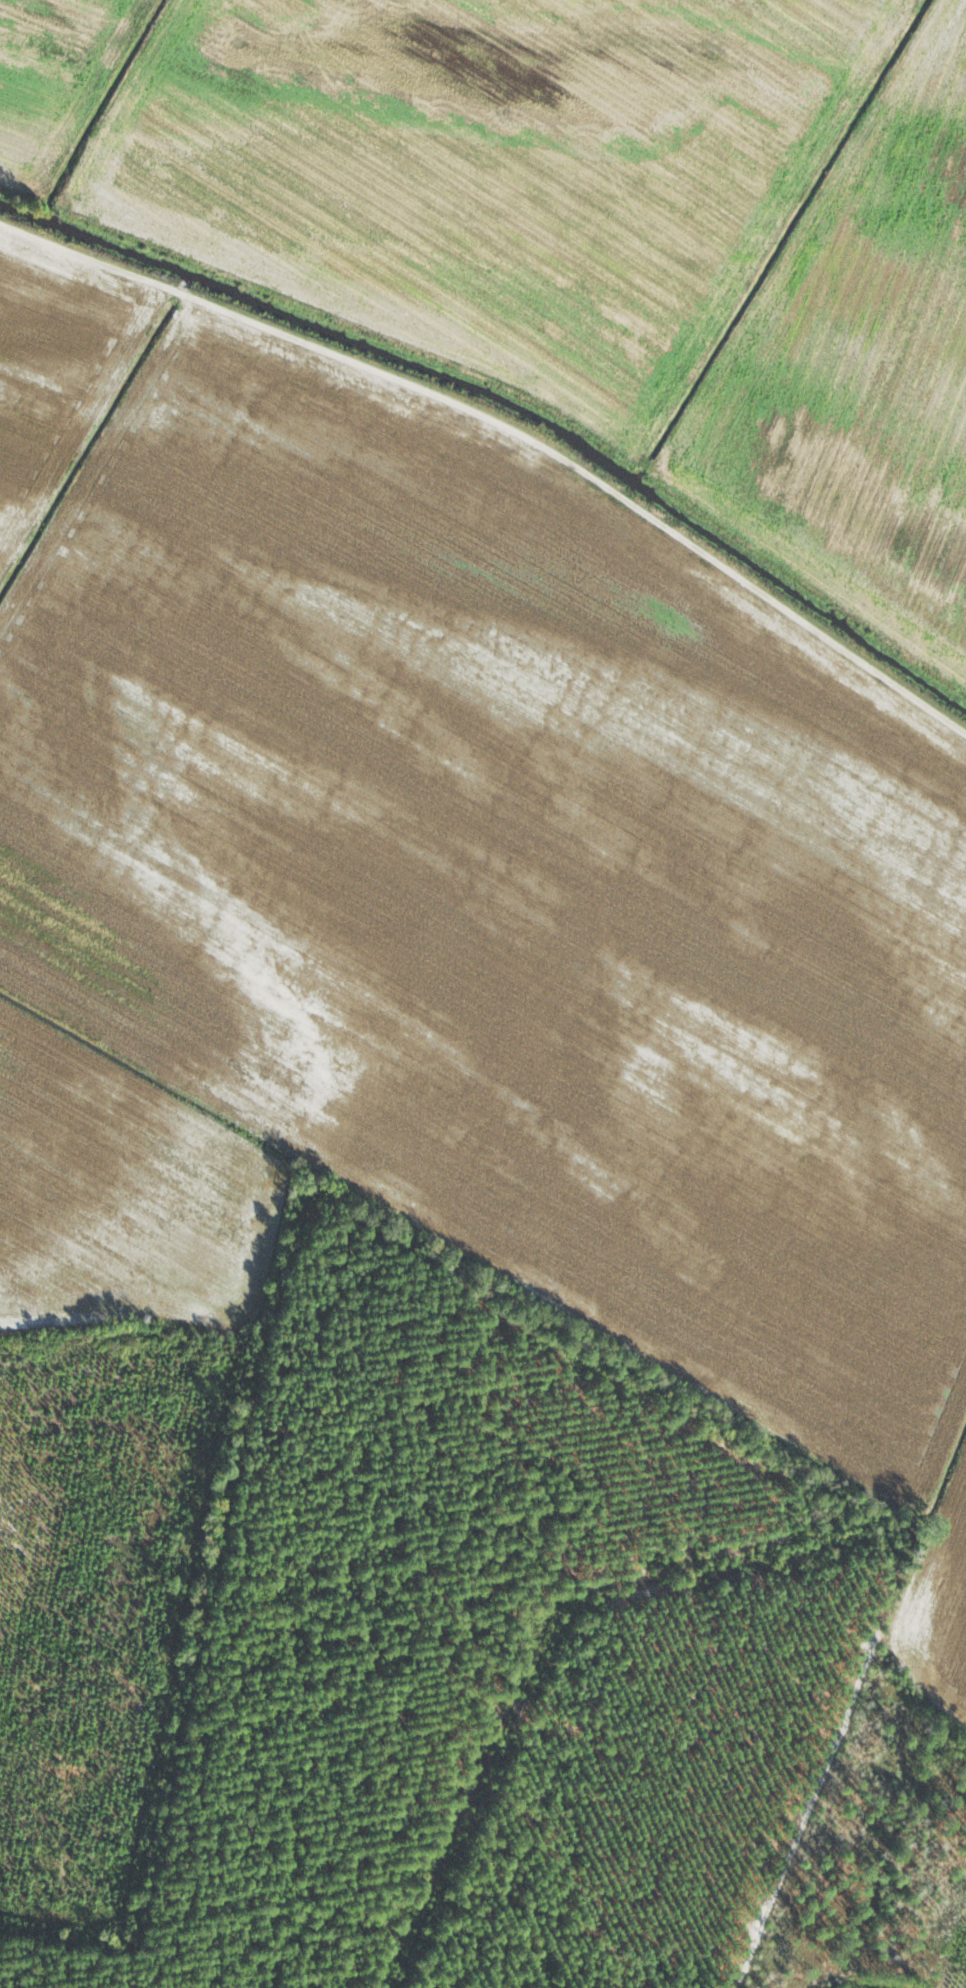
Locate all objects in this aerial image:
road: (510, 431)

